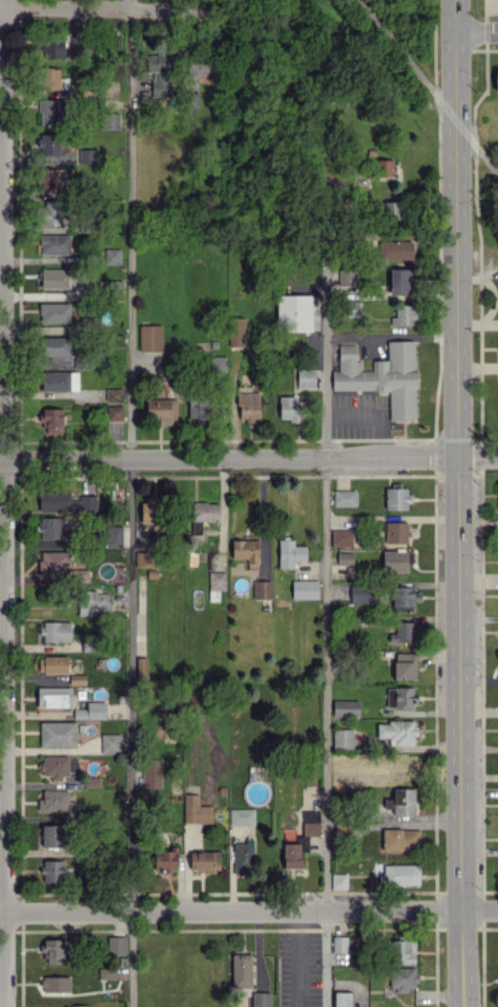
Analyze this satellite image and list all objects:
road: (100, 7)
road: (456, 17)
road: (477, 34)
road: (394, 43)
building: (52, 49)
building: (200, 67)
building: (158, 73)
building: (49, 78)
building: (496, 79)
building: (51, 112)
road: (450, 116)
building: (110, 121)
building: (48, 144)
building: (86, 155)
park: (483, 159)
road: (486, 161)
building: (383, 167)
building: (49, 178)
building: (389, 210)
building: (51, 212)
building: (54, 244)
building: (395, 250)
building: (112, 256)
building: (55, 278)
building: (401, 281)
building: (352, 308)
building: (294, 311)
building: (54, 312)
road: (326, 313)
building: (404, 314)
building: (236, 331)
road: (391, 335)
building: (150, 337)
building: (55, 346)
building: (381, 376)
building: (305, 378)
building: (59, 380)
building: (114, 394)
building: (196, 406)
building: (248, 406)
building: (291, 408)
building: (161, 410)
building: (114, 412)
building: (51, 421)
road: (249, 457)
building: (344, 498)
building: (396, 498)
building: (54, 500)
road: (129, 503)
road: (8, 506)
building: (149, 510)
building: (202, 514)
road: (458, 521)
building: (50, 527)
building: (396, 532)
building: (113, 536)
building: (341, 537)
building: (245, 551)
building: (290, 553)
building: (344, 558)
building: (144, 559)
building: (395, 560)
building: (52, 563)
building: (216, 580)
building: (262, 589)
building: (304, 589)
building: (361, 593)
building: (403, 598)
building: (91, 602)
building: (55, 631)
building: (403, 631)
building: (53, 664)
building: (405, 666)
road: (325, 684)
building: (53, 697)
building: (400, 697)
building: (346, 708)
building: (397, 732)
building: (57, 734)
building: (342, 739)
building: (110, 743)
building: (57, 766)
building: (152, 773)
building: (343, 773)
building: (53, 801)
building: (401, 801)
building: (191, 808)
building: (241, 816)
building: (310, 822)
building: (52, 835)
building: (400, 839)
building: (292, 855)
building: (243, 857)
building: (164, 859)
building: (204, 860)
building: (52, 870)
building: (401, 874)
building: (338, 880)
road: (249, 911)
building: (339, 944)
building: (116, 945)
building: (54, 950)
building: (402, 951)
road: (296, 959)
road: (325, 959)
building: (241, 970)
building: (403, 978)
building: (55, 983)
building: (261, 999)
building: (341, 999)
building: (80, 1006)

